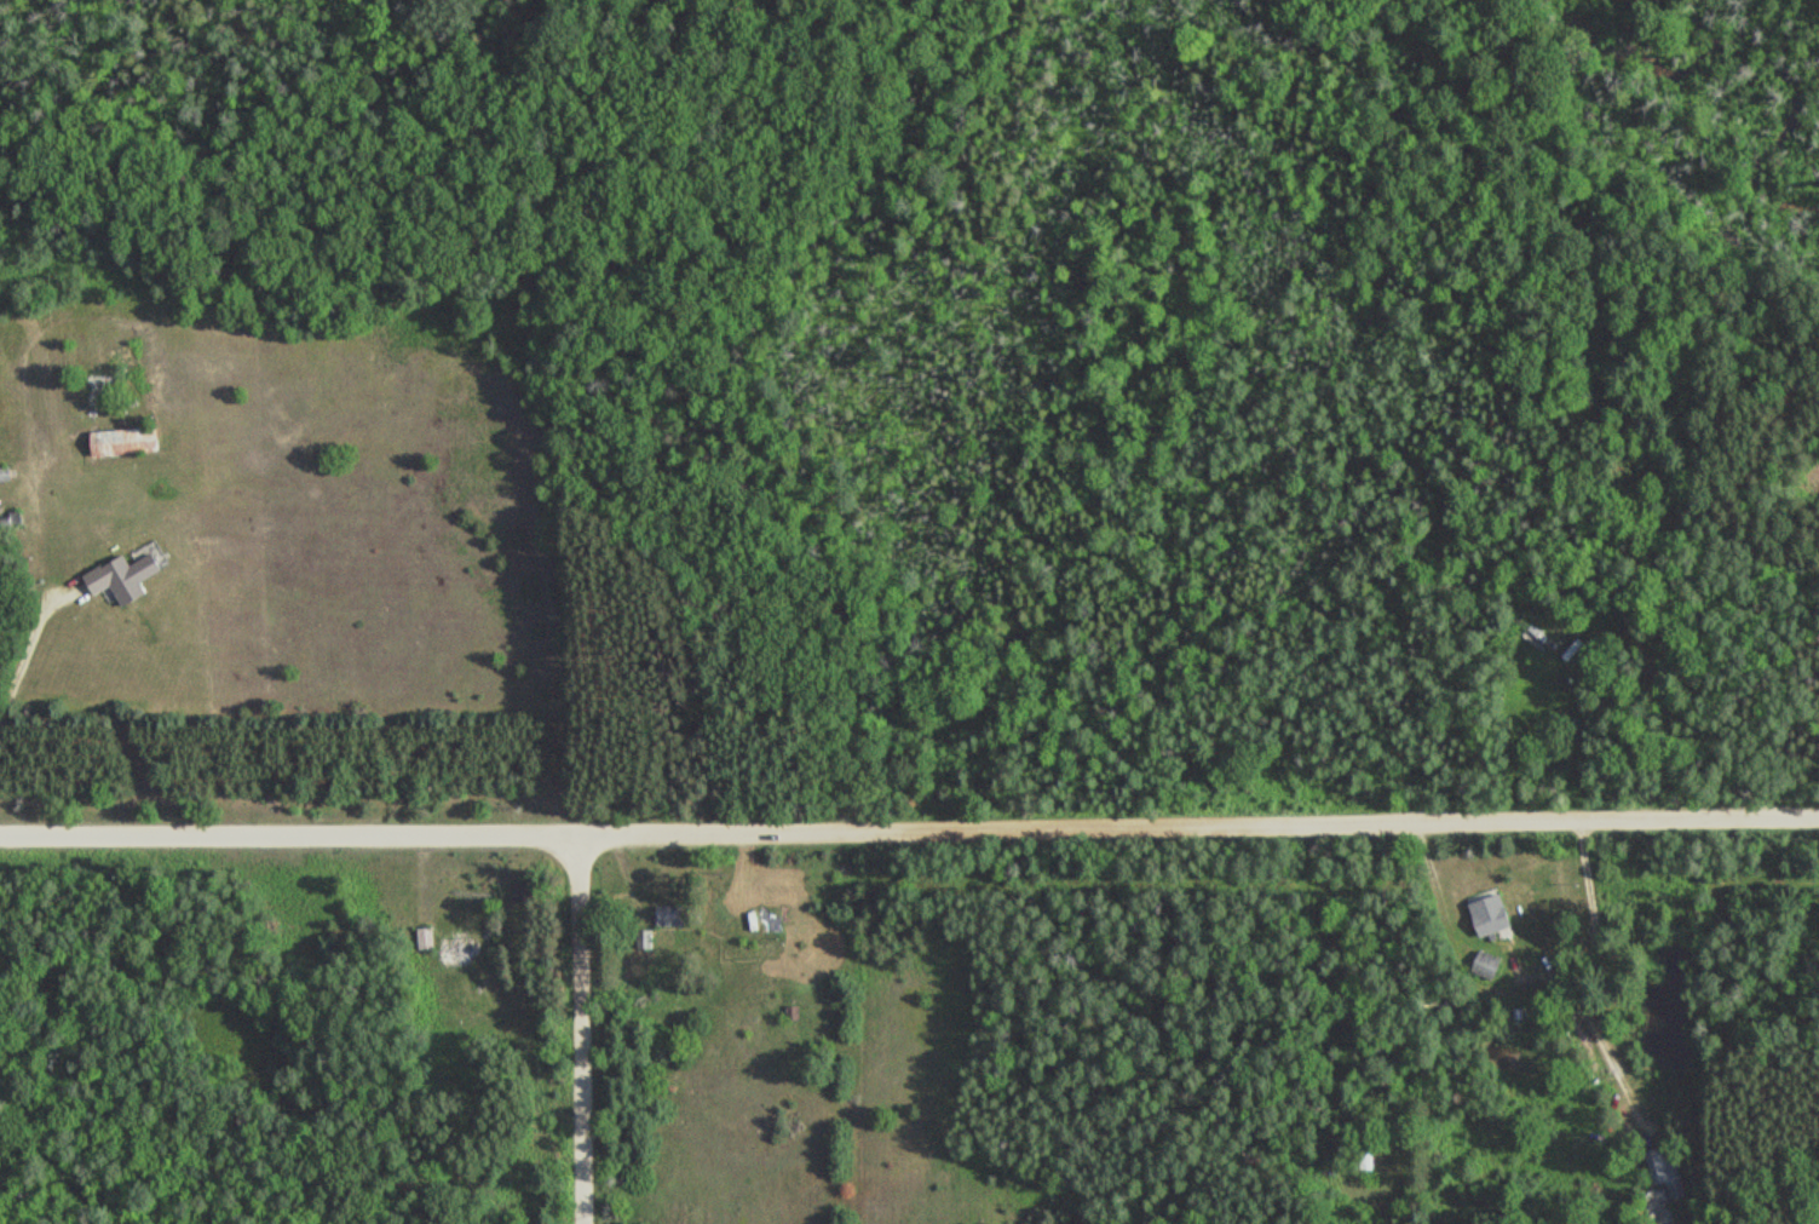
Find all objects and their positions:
building: (128, 441)
building: (6, 473)
building: (127, 577)
road: (909, 829)
building: (525, 890)
building: (1492, 913)
building: (673, 914)
building: (427, 937)
building: (457, 946)
building: (1487, 965)
road: (582, 1029)
building: (1665, 1171)

